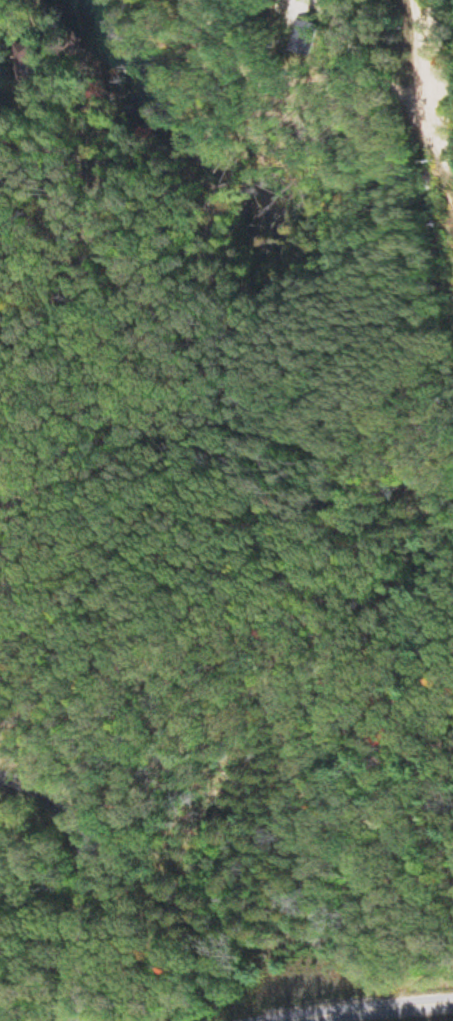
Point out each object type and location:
road: (444, 51)
building: (37, 63)
road: (83, 879)
road: (390, 1013)

